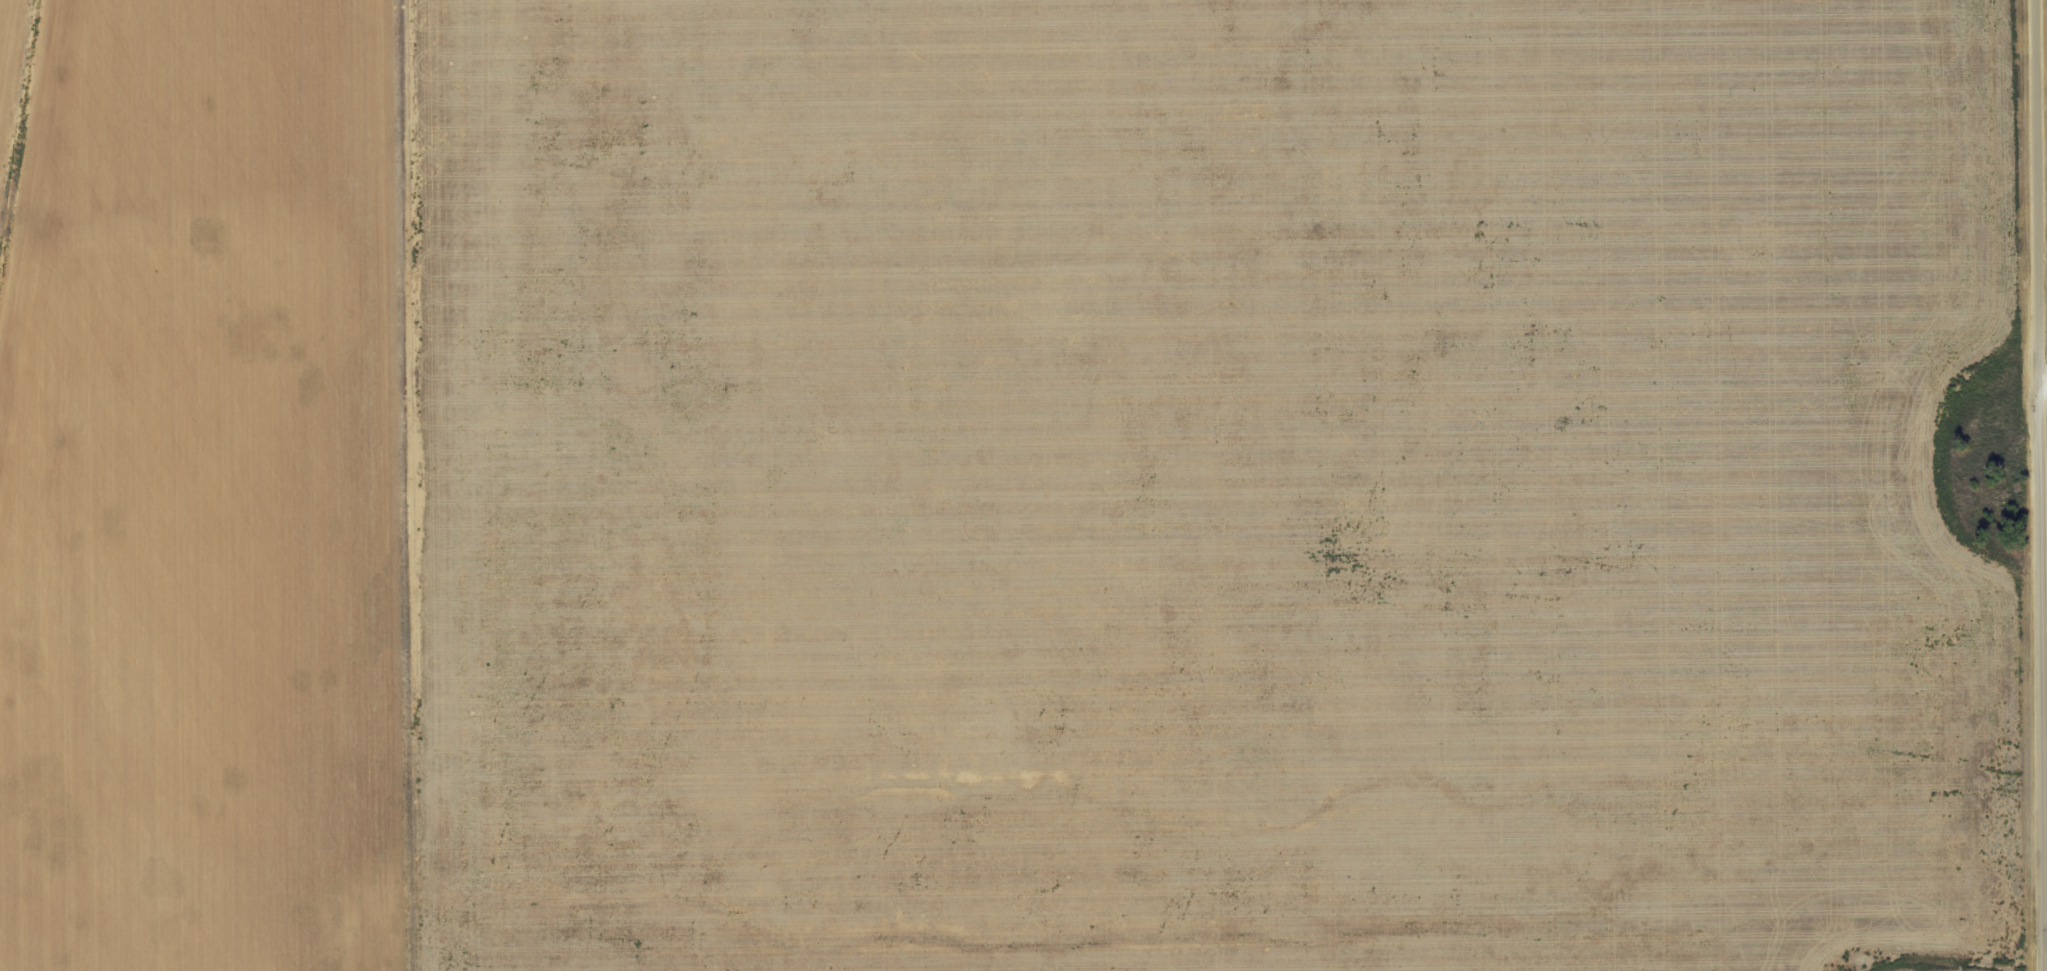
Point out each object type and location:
road: (2037, 485)
road: (2044, 822)

